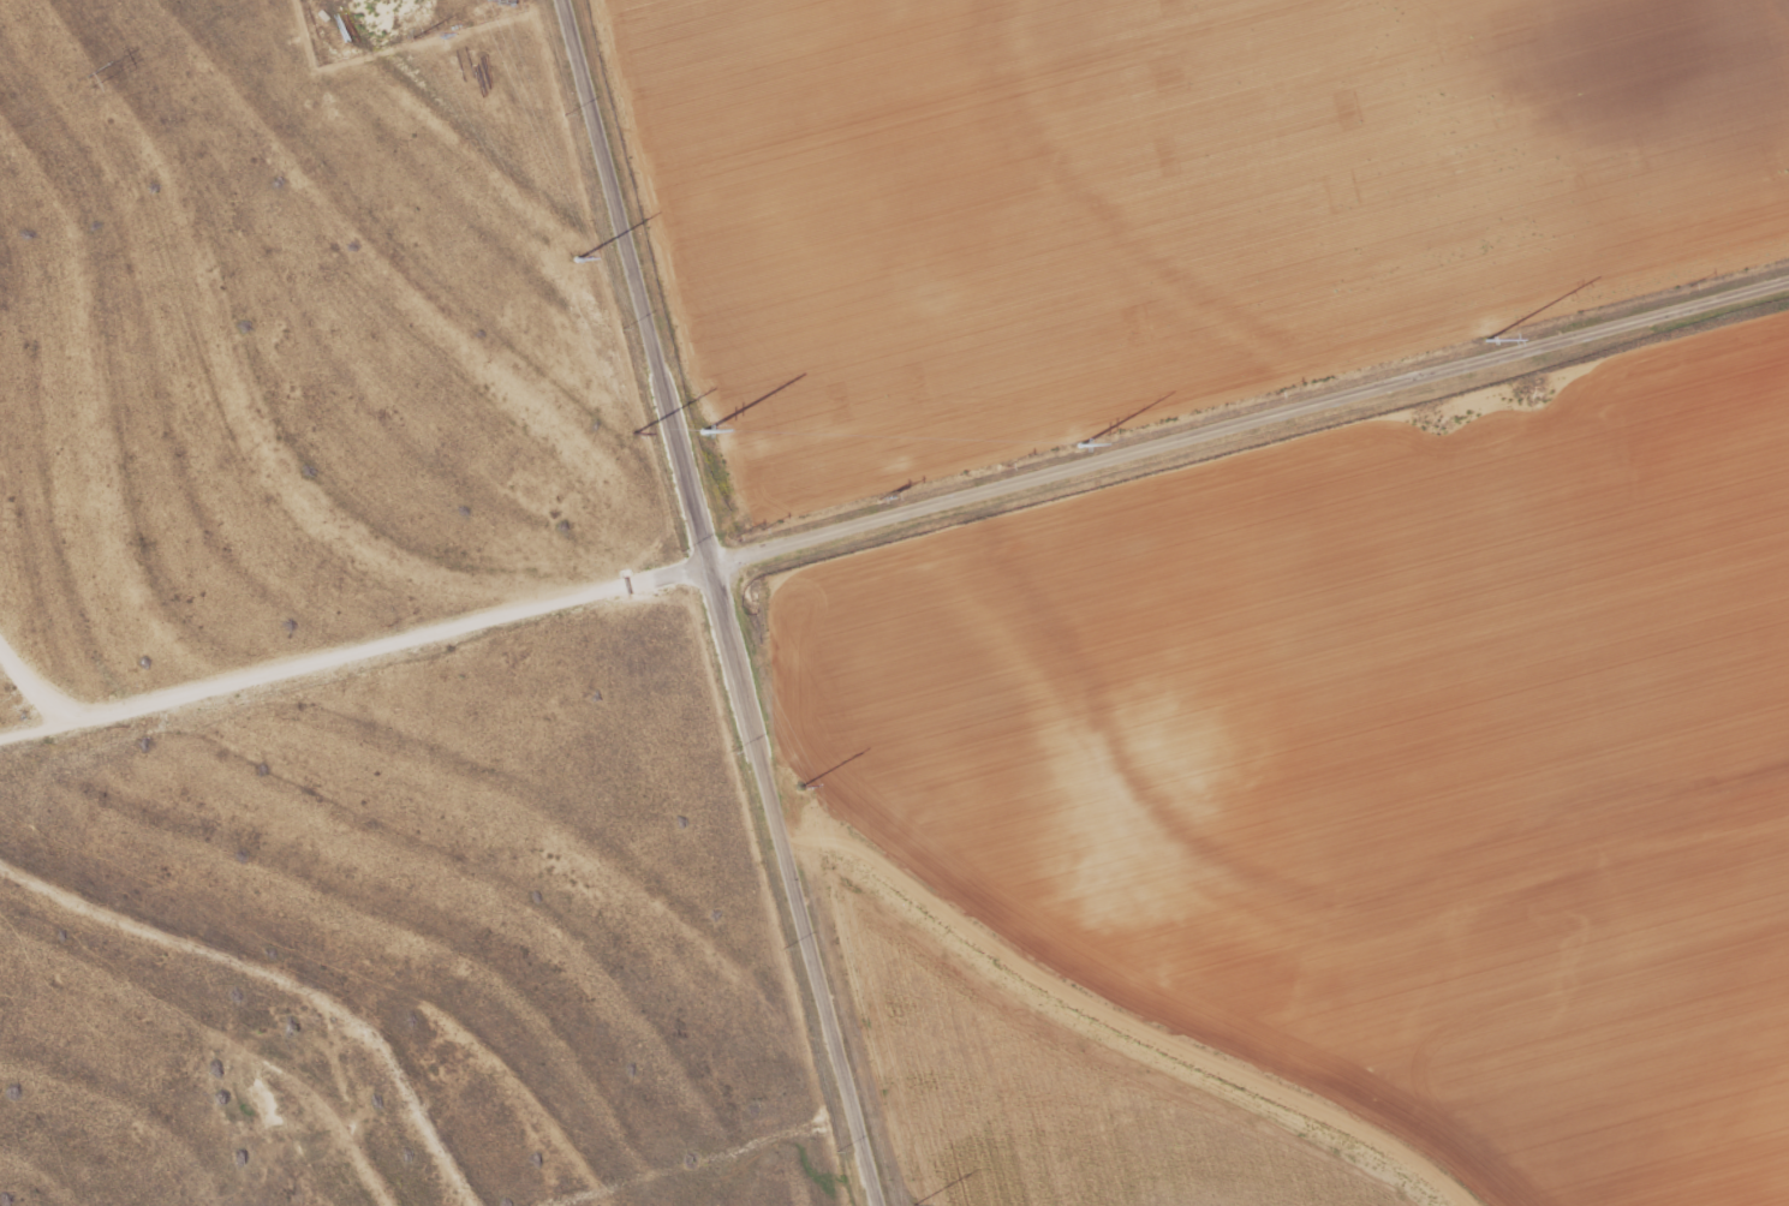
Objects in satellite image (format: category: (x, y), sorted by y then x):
power tower: (499, 10)
power tower: (421, 36)
power tower: (91, 82)
power tower: (1479, 341)
power tower: (634, 432)
power tower: (1072, 448)
road: (891, 518)
road: (717, 603)
power tower: (803, 784)
power tower: (914, 1204)

